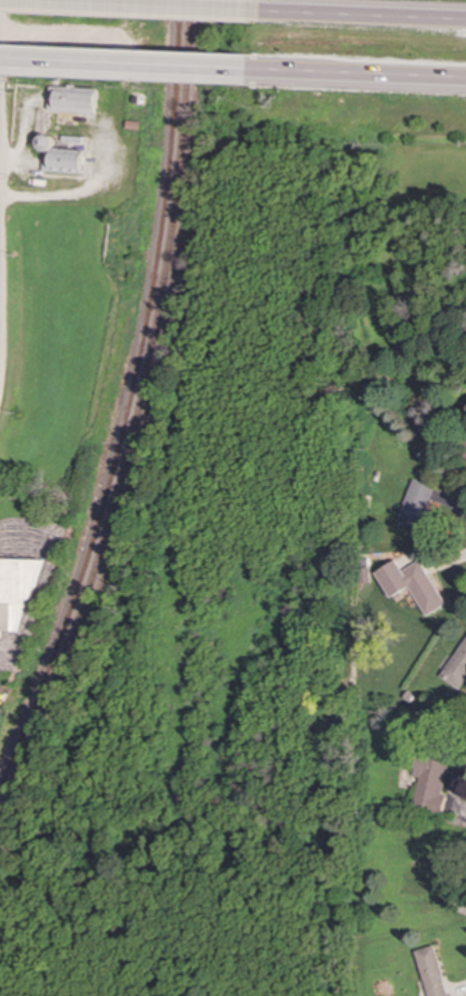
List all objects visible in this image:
road: (126, 5)
road: (359, 14)
road: (126, 64)
road: (359, 74)
building: (73, 99)
road: (23, 135)
building: (61, 157)
road: (81, 190)
crop: (68, 338)
railway: (130, 402)
railway: (136, 416)
building: (465, 438)
building: (415, 504)
road: (27, 534)
building: (410, 584)
building: (15, 590)
road: (9, 658)
building: (457, 667)
building: (430, 781)
building: (431, 971)

